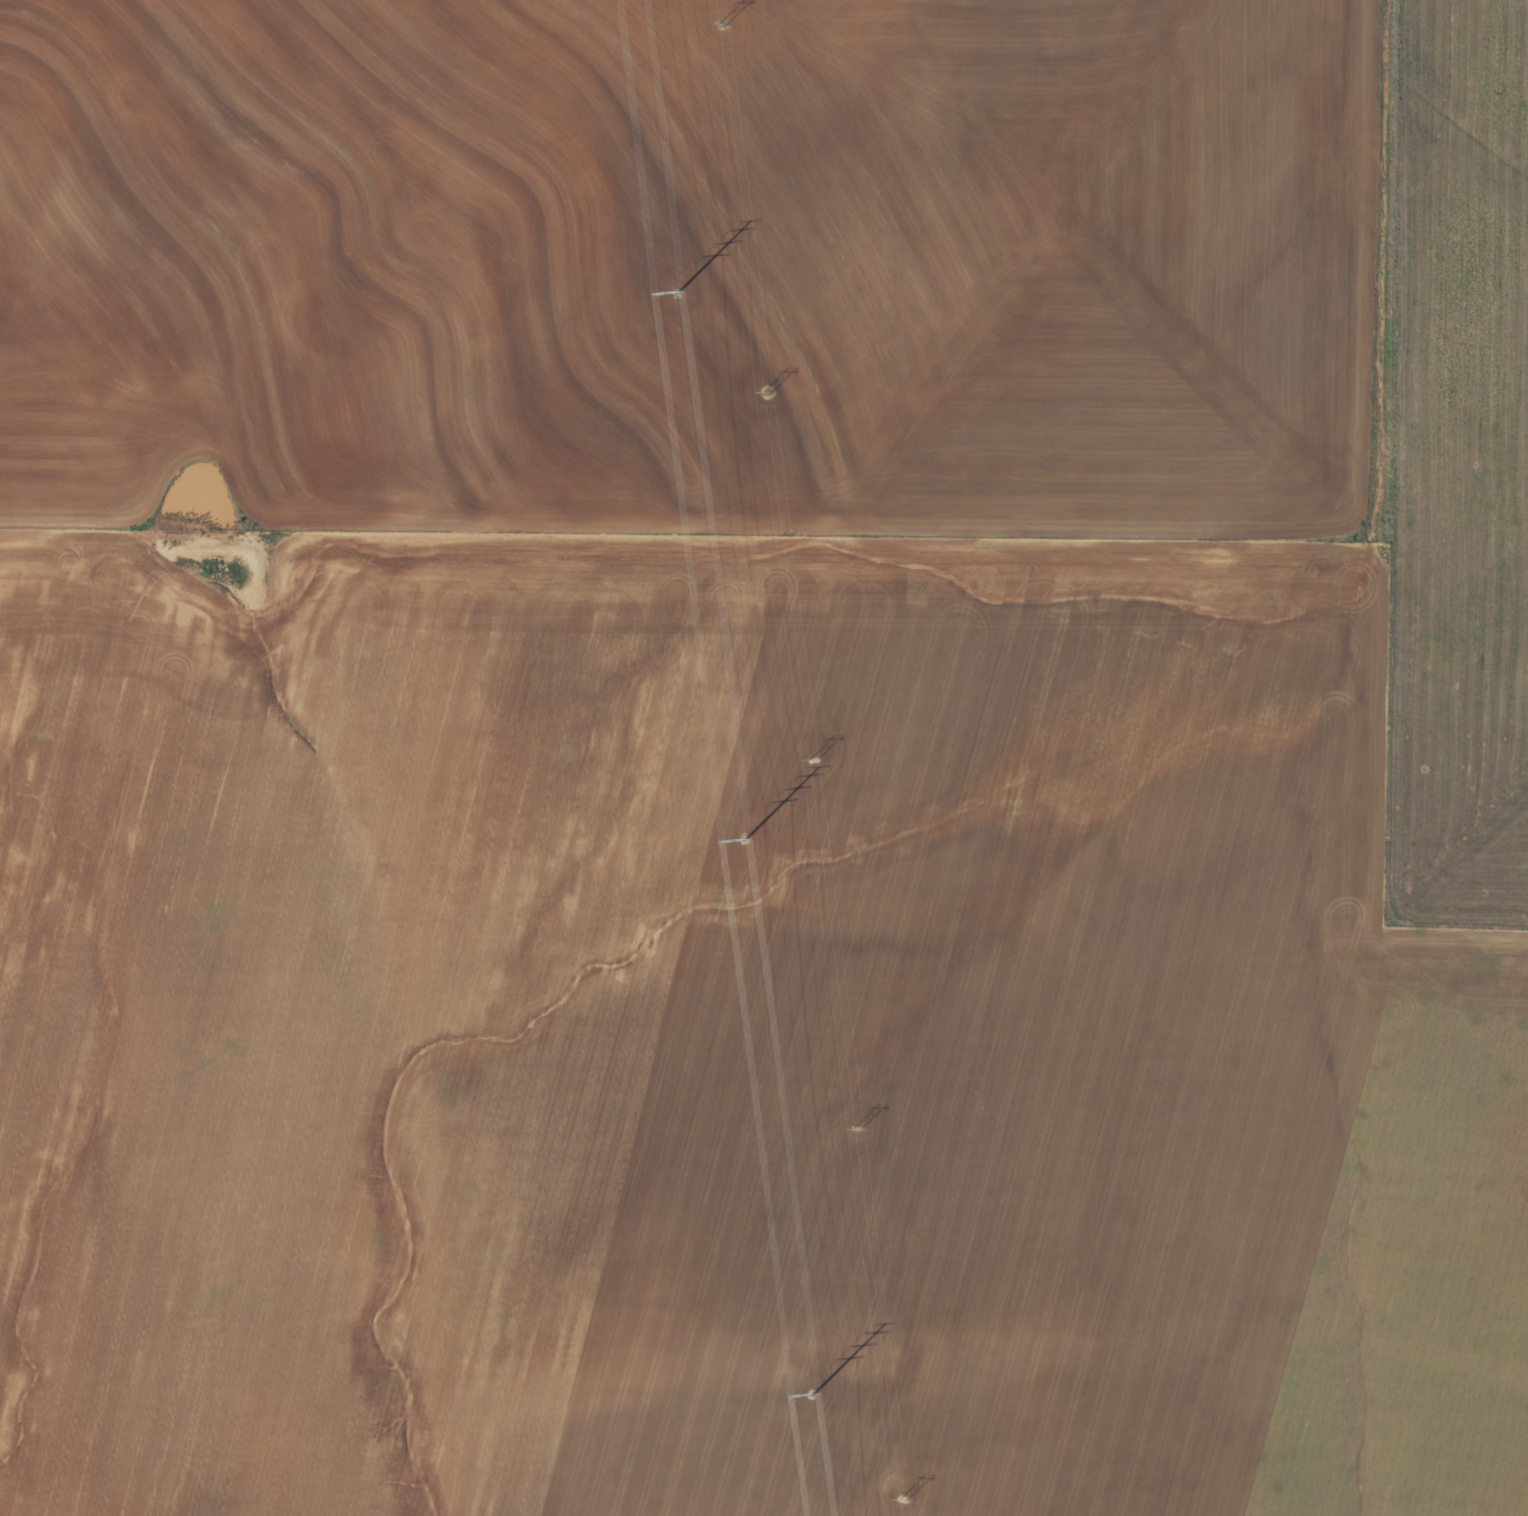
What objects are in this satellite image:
power tower: (721, 22)
power tower: (677, 294)
power tower: (767, 390)
power tower: (812, 759)
power tower: (745, 840)
power tower: (857, 1128)
power tower: (812, 1394)
power tower: (902, 1498)

